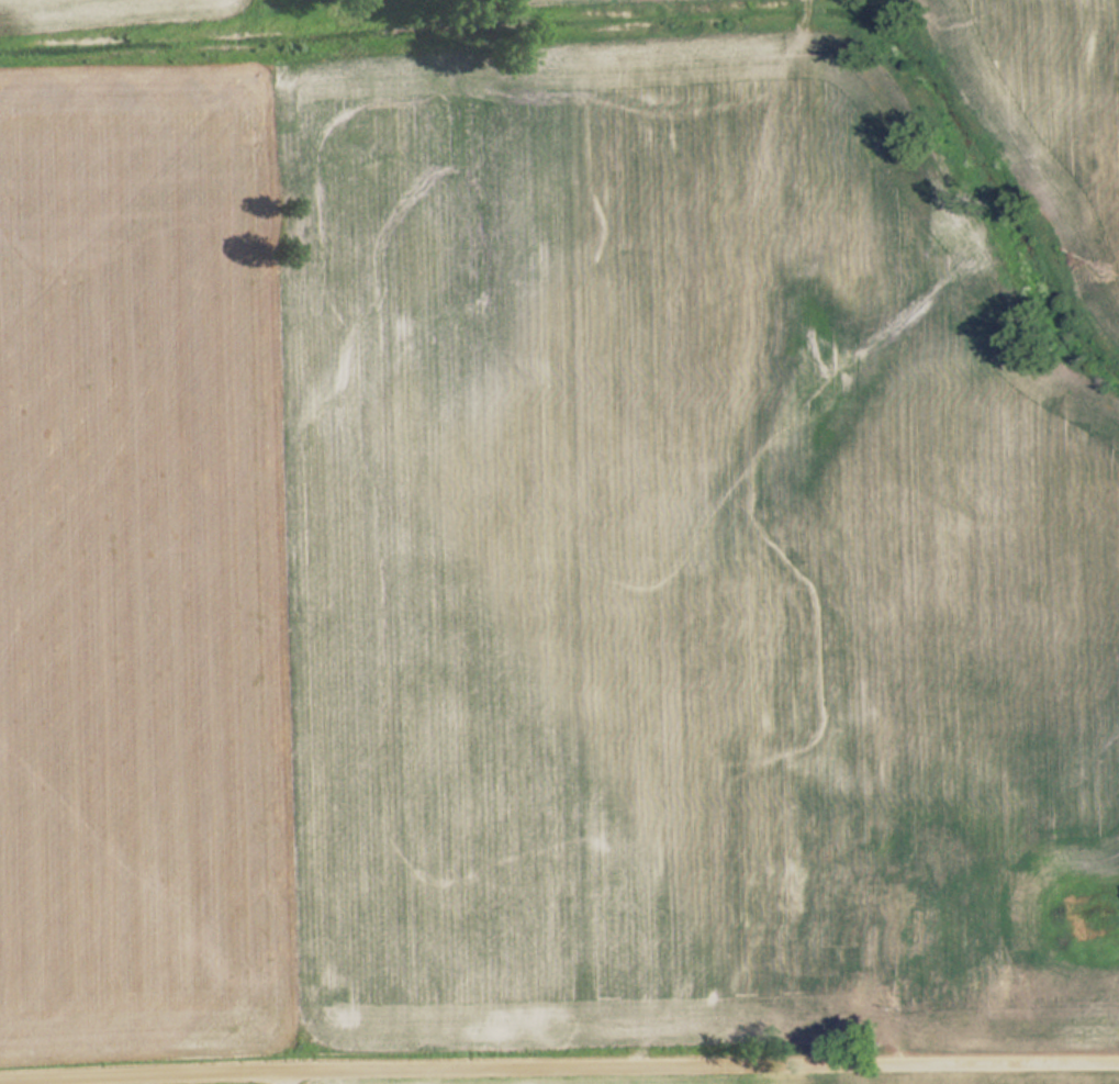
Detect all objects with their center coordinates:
road: (622, 1071)

